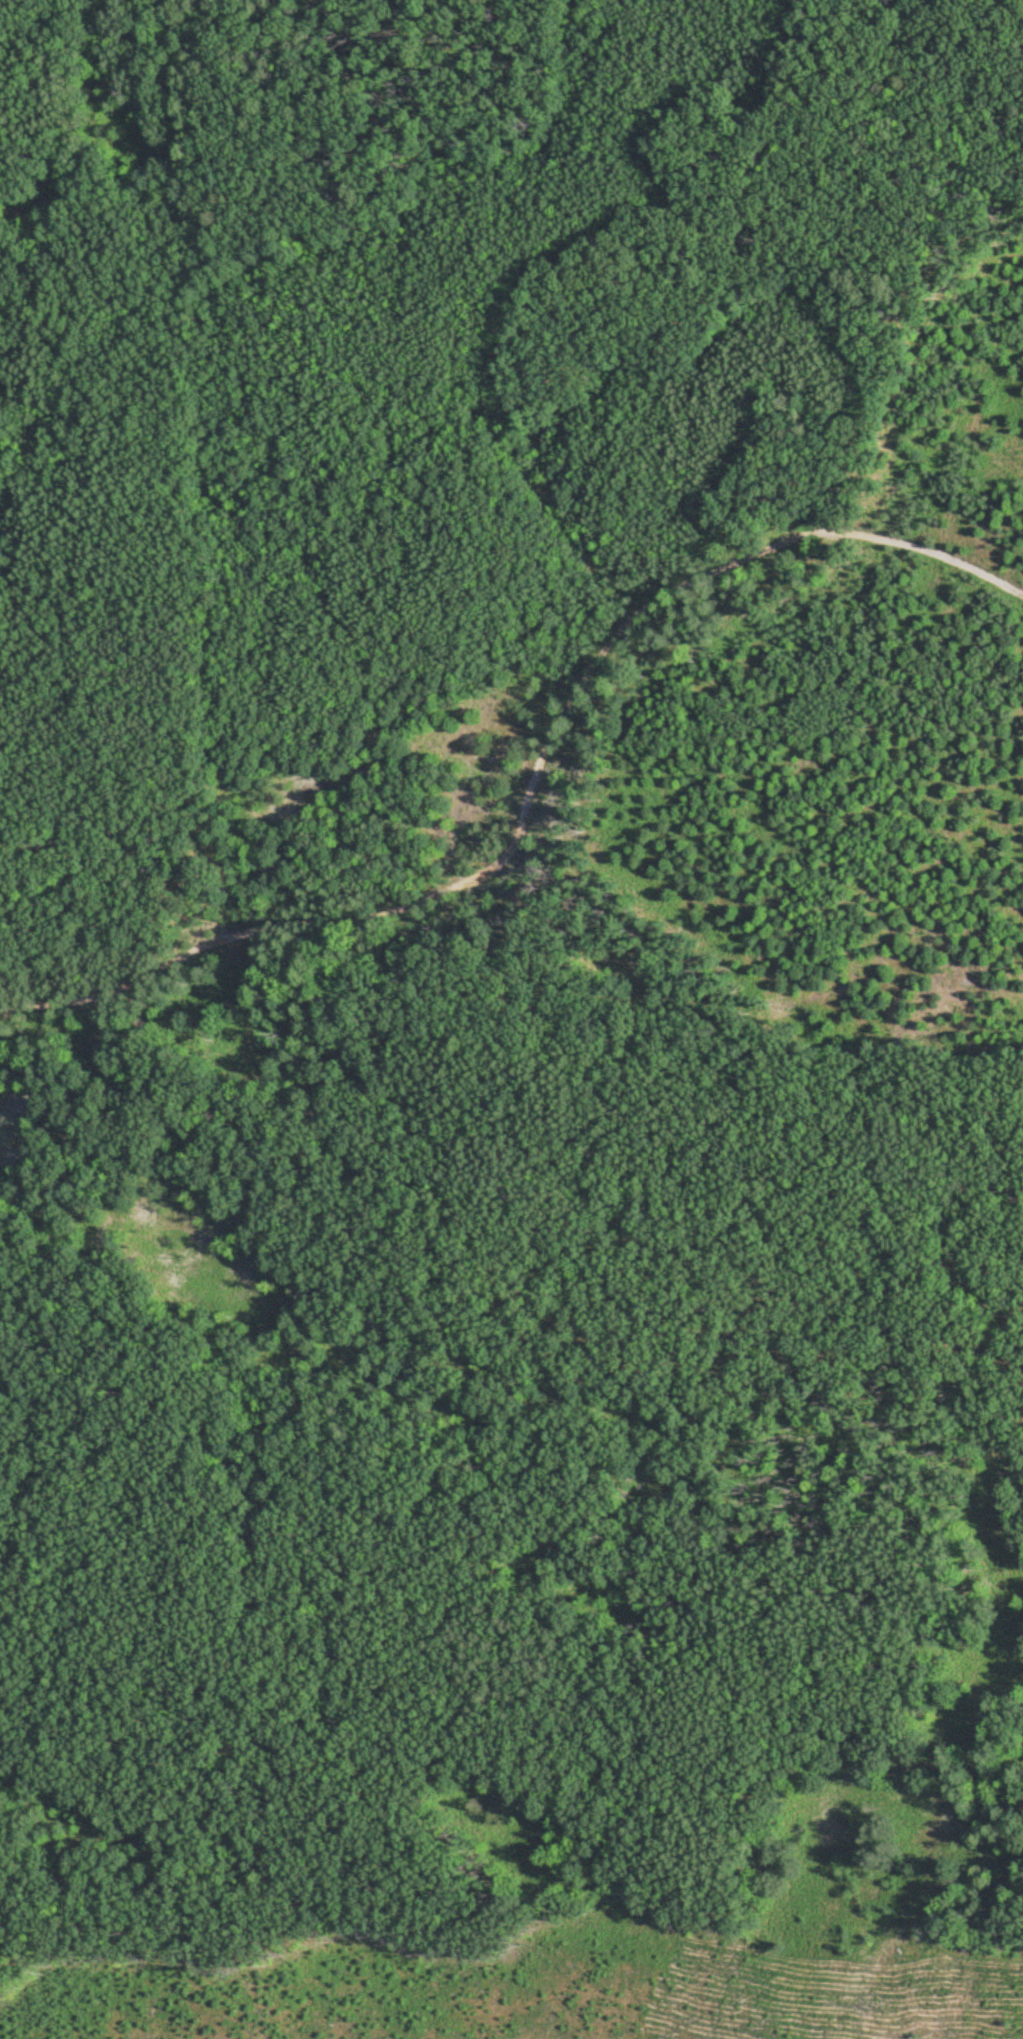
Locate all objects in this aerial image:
road: (533, 791)

